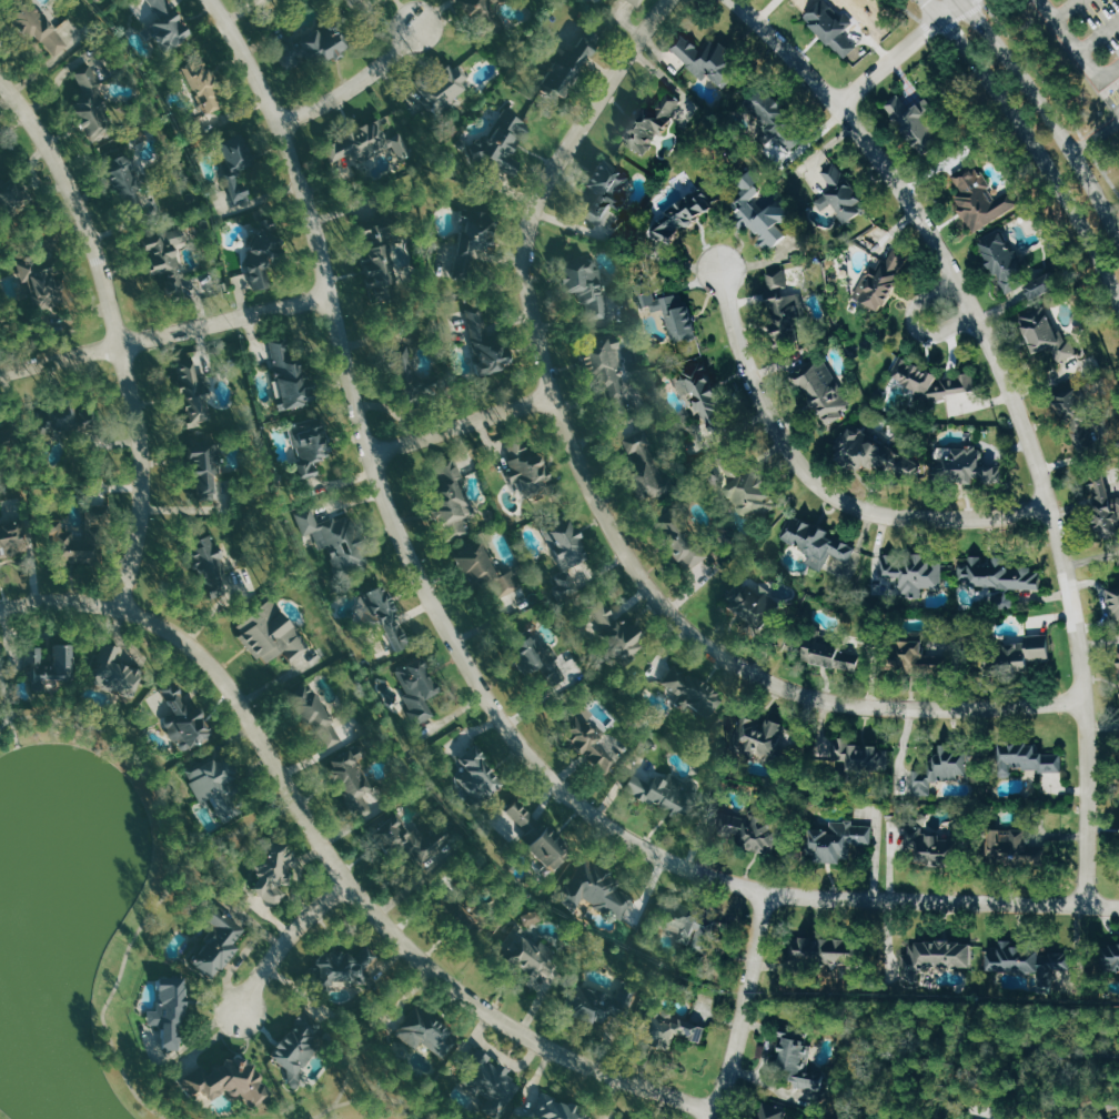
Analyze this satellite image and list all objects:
building: (271, 1)
building: (635, 2)
road: (988, 2)
road: (949, 8)
road: (1063, 8)
building: (481, 12)
building: (168, 26)
building: (837, 29)
parking lot: (1083, 29)
building: (42, 30)
road: (1098, 34)
building: (324, 43)
road: (1077, 49)
road: (888, 60)
building: (708, 61)
building: (565, 69)
road: (1118, 82)
road: (355, 84)
building: (204, 85)
building: (445, 88)
road: (1052, 98)
building: (92, 103)
road: (1109, 110)
road: (1048, 114)
building: (775, 115)
building: (917, 121)
building: (649, 124)
road: (1095, 135)
building: (507, 138)
building: (369, 142)
road: (1029, 142)
building: (238, 162)
building: (128, 181)
building: (608, 190)
building: (13, 193)
building: (843, 194)
road: (255, 199)
building: (984, 199)
building: (763, 212)
building: (686, 214)
building: (475, 242)
building: (167, 256)
building: (264, 258)
building: (381, 261)
building: (1005, 263)
building: (884, 280)
building: (42, 285)
building: (587, 285)
building: (1044, 288)
building: (649, 296)
building: (788, 301)
building: (682, 315)
road: (915, 323)
road: (117, 329)
road: (165, 332)
building: (487, 341)
building: (1054, 342)
building: (291, 375)
building: (614, 376)
building: (934, 382)
building: (824, 389)
building: (194, 392)
building: (707, 393)
building: (1078, 405)
road: (1016, 410)
building: (63, 420)
road: (461, 423)
building: (1086, 441)
building: (310, 445)
building: (877, 454)
building: (644, 461)
building: (971, 467)
building: (206, 468)
building: (530, 468)
road: (818, 482)
building: (750, 488)
building: (451, 497)
road: (603, 508)
building: (1107, 508)
building: (12, 538)
building: (334, 538)
building: (70, 543)
building: (824, 547)
building: (573, 556)
building: (210, 567)
building: (915, 571)
building: (486, 572)
building: (999, 577)
building: (757, 606)
building: (382, 615)
building: (619, 631)
building: (273, 633)
building: (835, 653)
building: (1026, 653)
building: (534, 656)
building: (52, 665)
building: (117, 672)
road: (473, 676)
building: (419, 689)
road: (6, 692)
building: (694, 692)
building: (0, 703)
building: (316, 715)
building: (186, 720)
building: (762, 738)
building: (592, 742)
building: (861, 756)
building: (1030, 758)
building: (944, 768)
building: (481, 773)
building: (214, 782)
building: (354, 782)
building: (664, 792)
building: (753, 829)
building: (401, 837)
road: (221, 838)
building: (839, 840)
road: (198, 843)
building: (548, 845)
building: (1017, 846)
road: (333, 863)
building: (274, 871)
road: (171, 874)
building: (597, 889)
building: (533, 917)
building: (465, 918)
building: (688, 925)
road: (285, 940)
building: (218, 942)
building: (828, 952)
building: (369, 954)
building: (533, 955)
building: (1113, 955)
building: (936, 959)
building: (1036, 961)
building: (342, 968)
building: (598, 1005)
road: (742, 1007)
road: (829, 1008)
building: (171, 1012)
road: (357, 1024)
building: (673, 1030)
building: (431, 1035)
road: (971, 1039)
building: (299, 1047)
building: (799, 1065)
road: (346, 1078)
building: (229, 1082)
building: (492, 1083)
road: (1054, 1086)
road: (372, 1096)
building: (558, 1108)
building: (1103, 1116)
building: (632, 1118)

